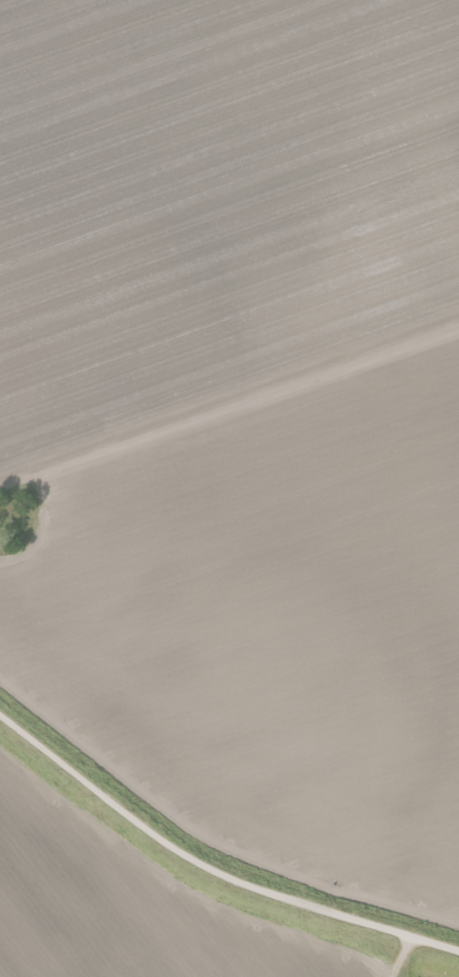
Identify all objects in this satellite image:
road: (229, 407)
park: (21, 518)
road: (210, 872)
road: (403, 958)

